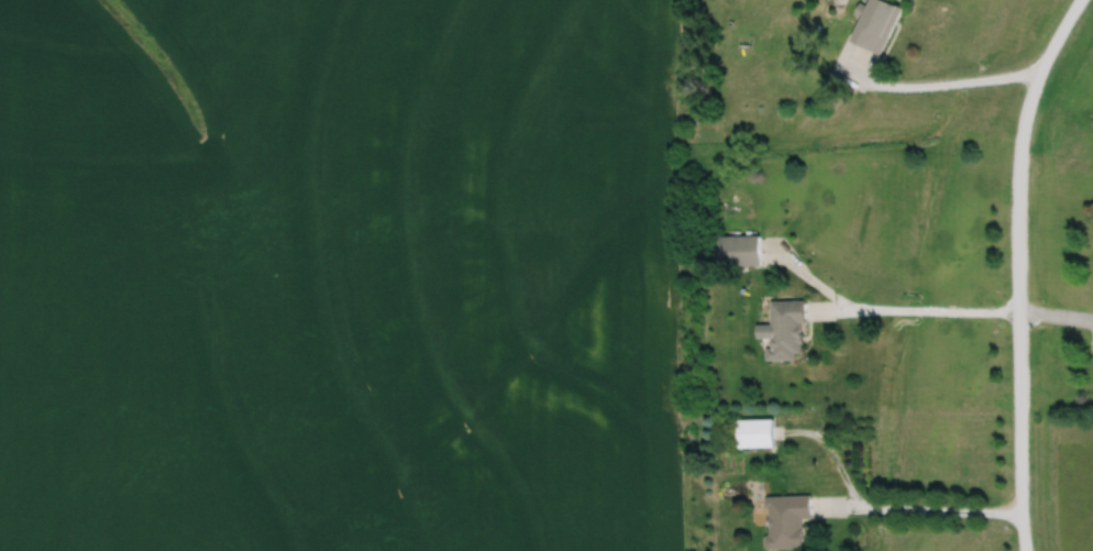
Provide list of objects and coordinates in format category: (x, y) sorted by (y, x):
building: (876, 22)
road: (935, 82)
road: (1018, 249)
building: (738, 250)
crop: (342, 275)
road: (810, 277)
road: (952, 310)
building: (783, 329)
building: (755, 430)
road: (831, 452)
road: (918, 508)
building: (787, 518)
road: (1023, 530)

